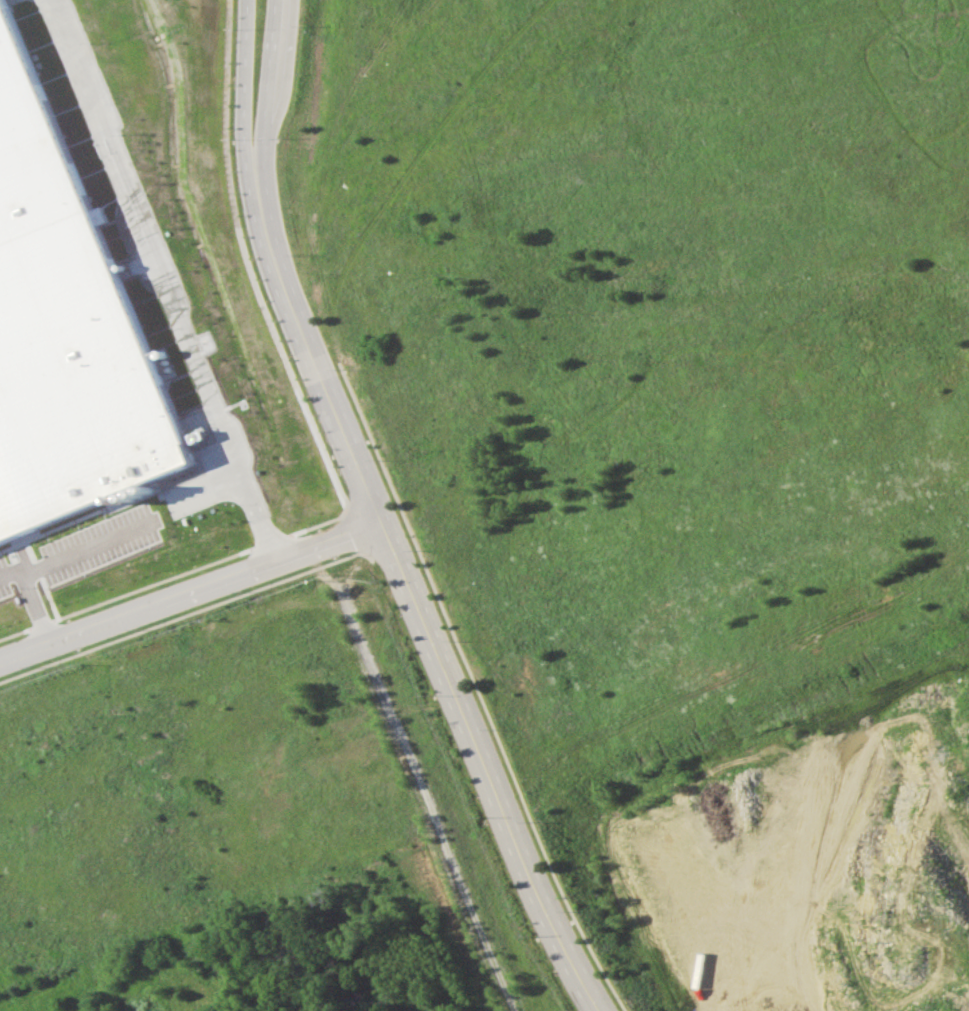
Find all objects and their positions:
road: (283, 81)
road: (263, 182)
road: (246, 186)
road: (252, 281)
road: (143, 282)
building: (63, 343)
road: (347, 441)
building: (307, 471)
road: (49, 565)
road: (9, 581)
road: (191, 591)
road: (484, 770)

